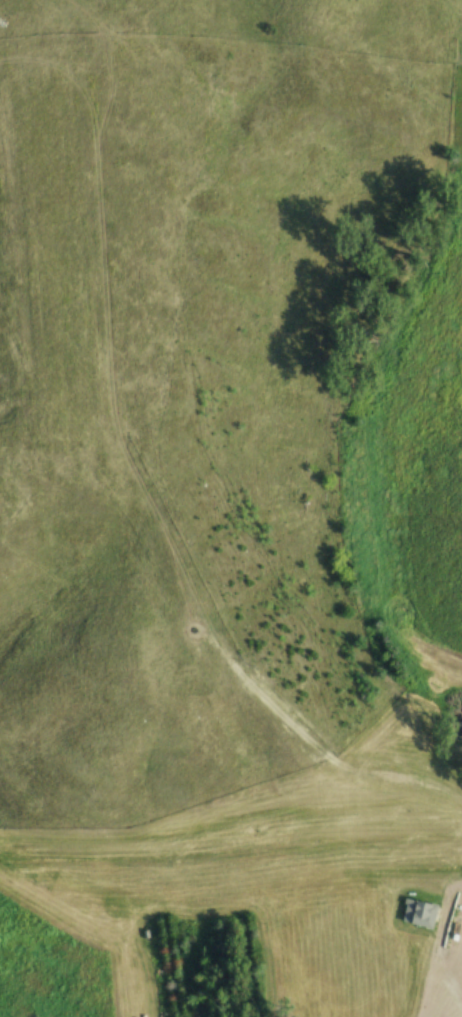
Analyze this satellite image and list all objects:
building: (418, 914)
road: (443, 991)

